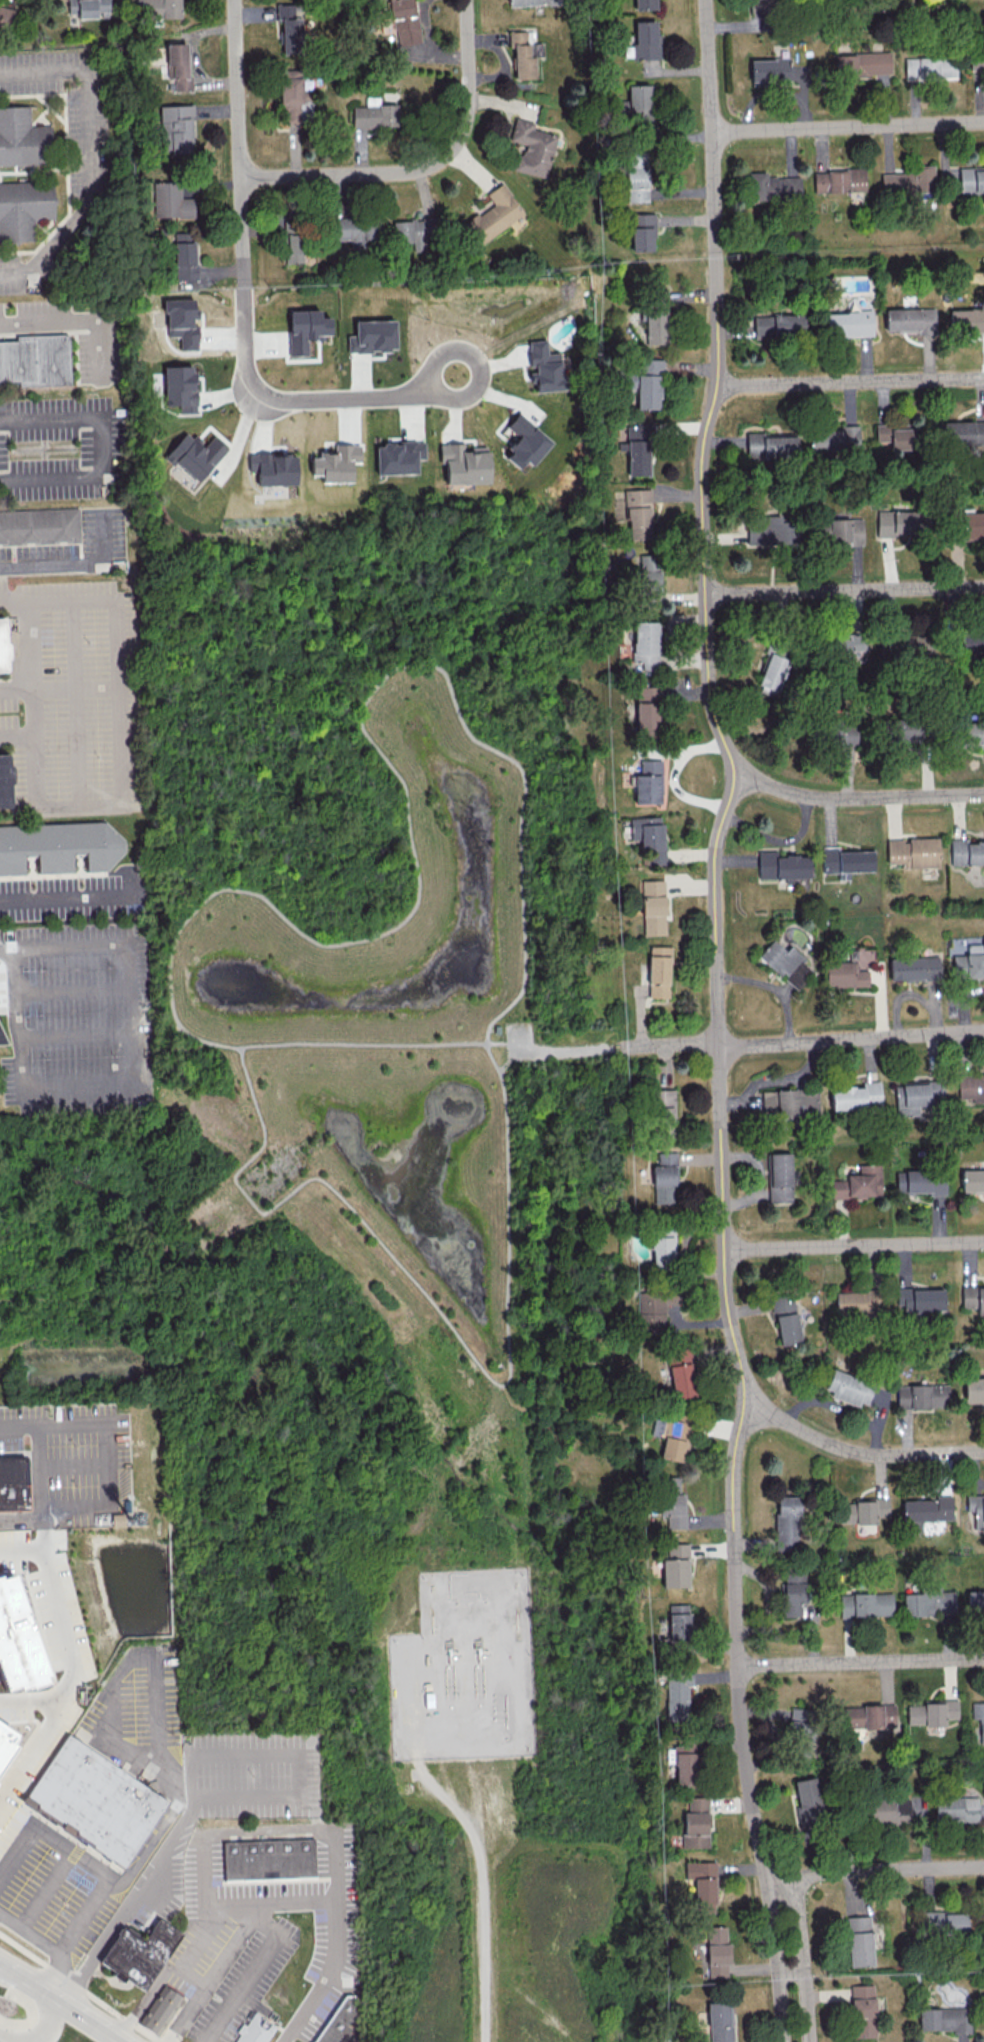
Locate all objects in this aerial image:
building: (529, 2)
building: (644, 4)
building: (89, 8)
building: (158, 8)
building: (757, 12)
building: (4, 18)
building: (404, 21)
building: (289, 29)
building: (643, 40)
building: (522, 54)
building: (976, 58)
building: (862, 64)
building: (178, 66)
building: (929, 67)
building: (773, 71)
building: (290, 95)
building: (638, 104)
building: (374, 114)
road: (848, 127)
building: (175, 128)
building: (22, 138)
road: (87, 148)
building: (532, 148)
road: (427, 167)
building: (637, 176)
building: (838, 180)
building: (908, 180)
building: (971, 180)
building: (772, 186)
building: (171, 200)
building: (23, 207)
building: (493, 215)
building: (355, 230)
building: (642, 232)
building: (413, 233)
building: (294, 247)
building: (184, 256)
road: (221, 273)
road: (9, 275)
road: (244, 299)
building: (911, 320)
building: (182, 321)
building: (966, 321)
building: (848, 323)
road: (51, 324)
building: (654, 325)
building: (777, 325)
building: (306, 329)
building: (372, 336)
road: (103, 351)
building: (35, 359)
building: (543, 366)
building: (643, 382)
road: (850, 382)
building: (180, 387)
road: (78, 419)
building: (961, 432)
building: (898, 437)
building: (834, 438)
building: (524, 441)
building: (771, 445)
parking lot: (60, 446)
building: (637, 446)
building: (195, 454)
building: (399, 456)
building: (337, 463)
building: (464, 463)
building: (274, 468)
road: (48, 482)
building: (637, 511)
road: (703, 522)
building: (972, 524)
building: (40, 525)
building: (901, 526)
building: (820, 527)
building: (772, 529)
building: (846, 530)
road: (101, 537)
road: (51, 565)
building: (648, 581)
road: (845, 591)
building: (645, 640)
building: (971, 642)
building: (848, 646)
building: (3, 647)
road: (29, 668)
building: (771, 674)
road: (59, 687)
road: (75, 703)
building: (647, 709)
road: (119, 723)
road: (16, 734)
building: (971, 735)
building: (5, 782)
building: (648, 782)
road: (858, 796)
building: (649, 838)
road: (779, 840)
building: (58, 846)
building: (912, 852)
building: (966, 852)
building: (845, 860)
building: (781, 866)
road: (69, 896)
road: (523, 905)
building: (653, 907)
road: (8, 952)
building: (969, 962)
building: (786, 963)
building: (914, 968)
building: (849, 970)
building: (658, 971)
road: (149, 977)
road: (775, 987)
road: (72, 991)
parking lot: (78, 1020)
road: (491, 1028)
building: (497, 1029)
road: (75, 1036)
road: (851, 1039)
parking lot: (520, 1040)
building: (2, 1041)
road: (502, 1042)
road: (362, 1043)
road: (669, 1043)
road: (719, 1043)
road: (165, 1046)
road: (554, 1051)
road: (508, 1061)
road: (131, 1083)
building: (971, 1086)
building: (856, 1095)
building: (664, 1106)
building: (780, 1177)
building: (665, 1178)
building: (972, 1180)
building: (900, 1181)
building: (925, 1181)
building: (859, 1183)
road: (854, 1245)
building: (663, 1247)
building: (973, 1297)
building: (920, 1299)
building: (855, 1304)
building: (655, 1310)
building: (785, 1318)
road: (714, 1348)
building: (682, 1373)
building: (849, 1387)
building: (974, 1389)
building: (922, 1396)
road: (528, 1403)
road: (20, 1426)
road: (717, 1428)
building: (677, 1437)
road: (859, 1452)
parking lot: (78, 1456)
road: (76, 1463)
road: (112, 1464)
road: (733, 1473)
building: (14, 1484)
road: (42, 1493)
building: (976, 1506)
building: (673, 1509)
building: (861, 1510)
building: (926, 1511)
building: (787, 1523)
building: (675, 1565)
building: (793, 1593)
building: (975, 1601)
building: (929, 1603)
building: (866, 1604)
building: (678, 1626)
building: (18, 1638)
road: (861, 1661)
road: (73, 1664)
road: (128, 1664)
building: (677, 1693)
road: (33, 1695)
building: (932, 1712)
building: (869, 1716)
building: (979, 1716)
building: (801, 1722)
building: (6, 1739)
road: (301, 1752)
building: (687, 1763)
building: (98, 1799)
building: (807, 1802)
building: (956, 1808)
building: (887, 1811)
building: (695, 1824)
road: (302, 1829)
road: (52, 1836)
building: (272, 1859)
road: (883, 1868)
road: (122, 1881)
building: (702, 1885)
road: (47, 1888)
road: (482, 1890)
road: (288, 1900)
road: (227, 1902)
road: (133, 1903)
road: (265, 1923)
building: (943, 1923)
road: (31, 1932)
building: (859, 1941)
road: (185, 1950)
building: (142, 1951)
building: (717, 1951)
road: (776, 1959)
road: (803, 1959)
road: (6, 1967)
road: (193, 1973)
road: (31, 1982)
road: (79, 1988)
road: (242, 1990)
building: (162, 2010)
building: (863, 2010)
road: (83, 2018)
building: (944, 2018)
building: (720, 2019)
road: (55, 2020)
building: (342, 2023)
building: (258, 2030)

